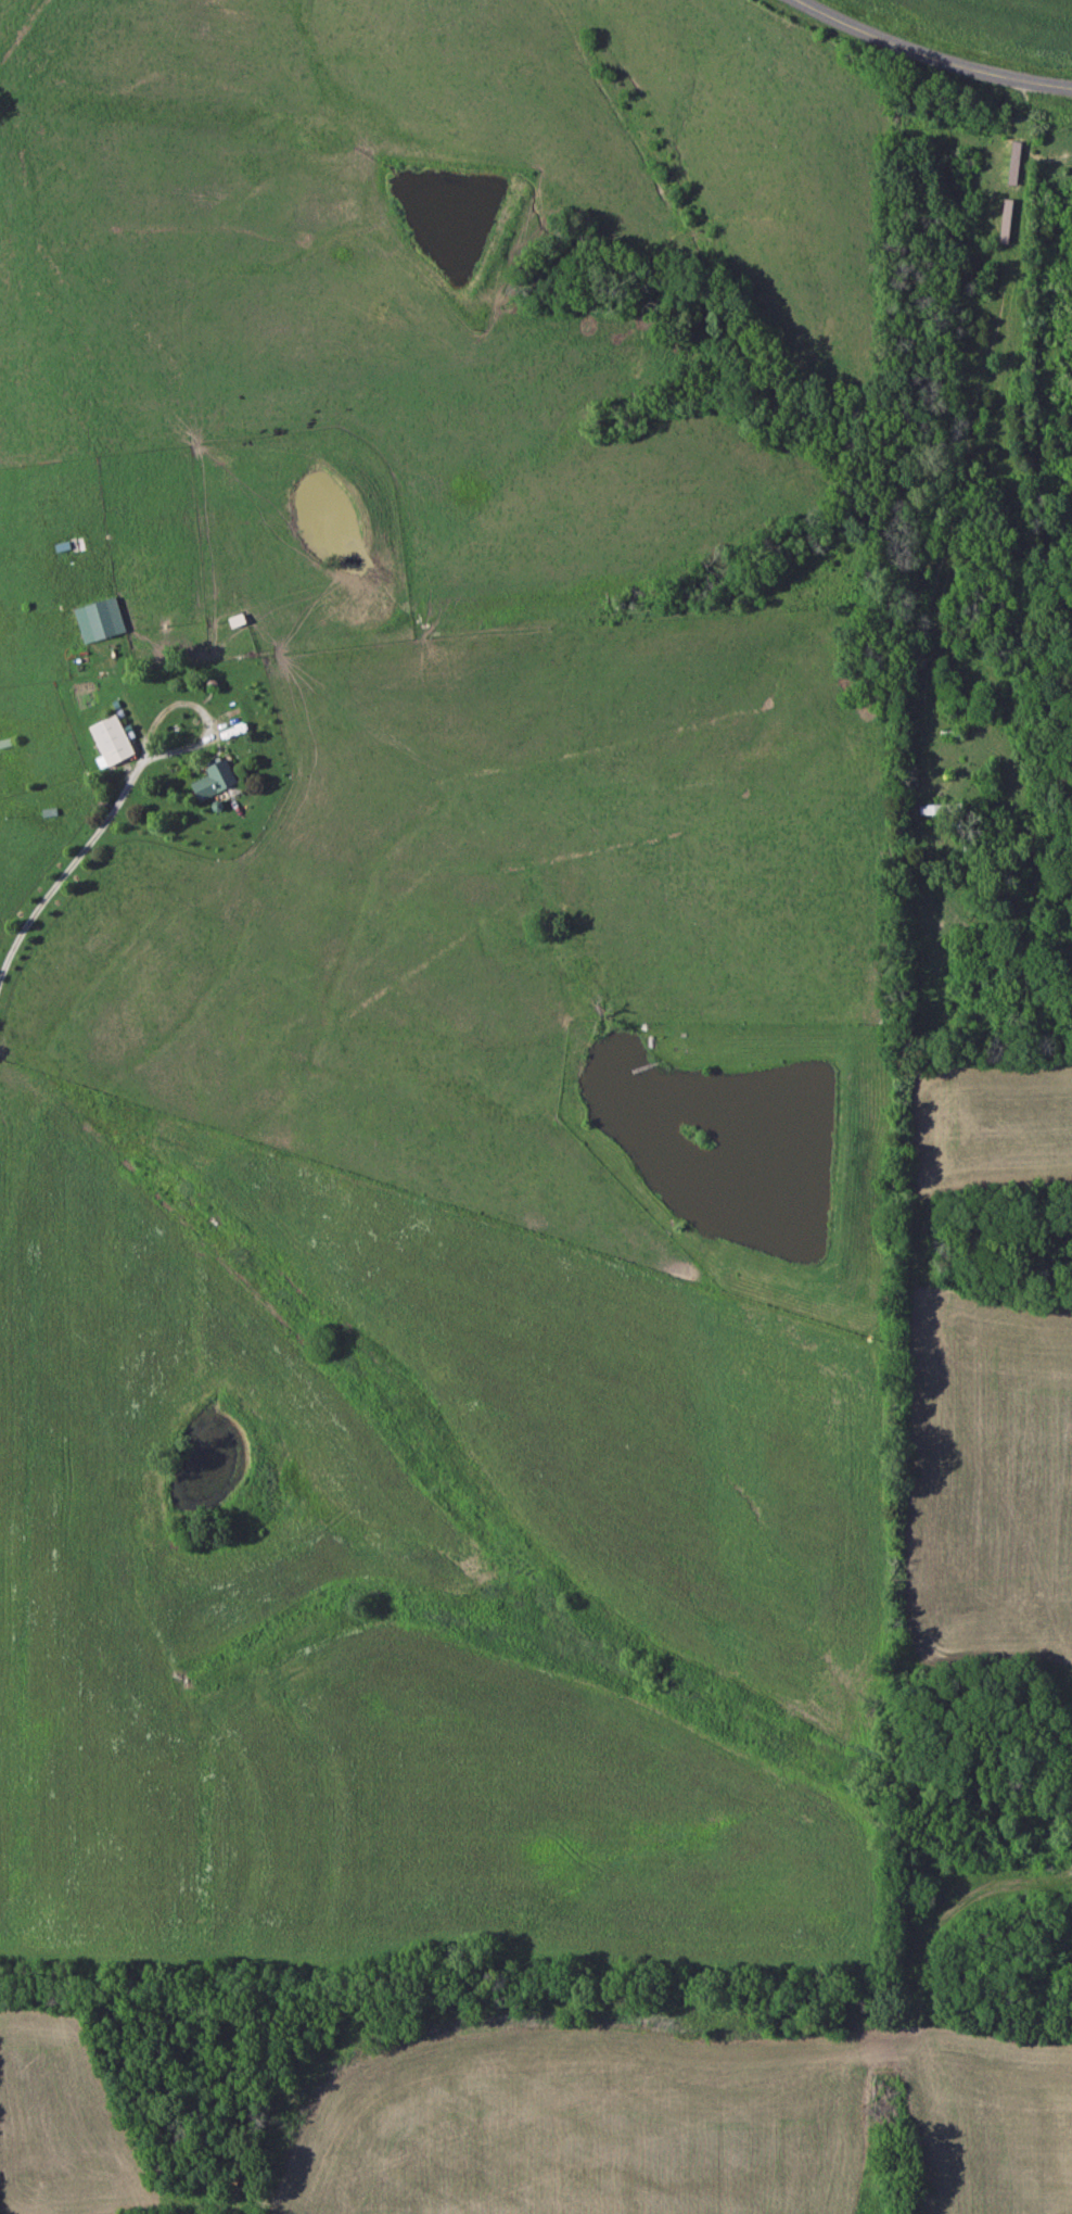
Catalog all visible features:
road: (932, 54)
building: (99, 620)
building: (234, 621)
road: (199, 711)
building: (111, 742)
building: (212, 782)
road: (68, 865)
building: (1020, 967)

